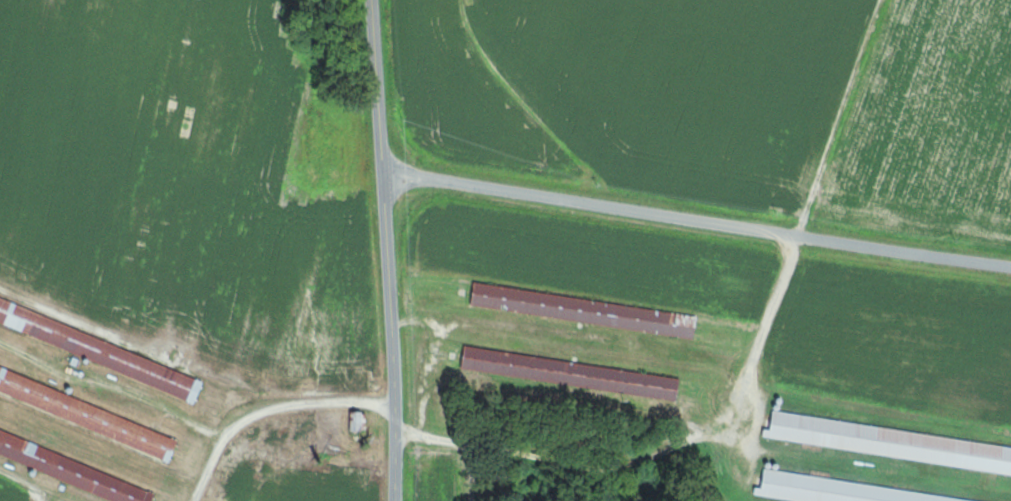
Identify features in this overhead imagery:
road: (696, 219)
road: (387, 250)
building: (586, 310)
building: (101, 350)
building: (573, 373)
road: (270, 411)
building: (87, 413)
building: (891, 442)
road: (661, 451)
building: (74, 470)
road: (27, 483)
building: (826, 489)
building: (943, 498)

